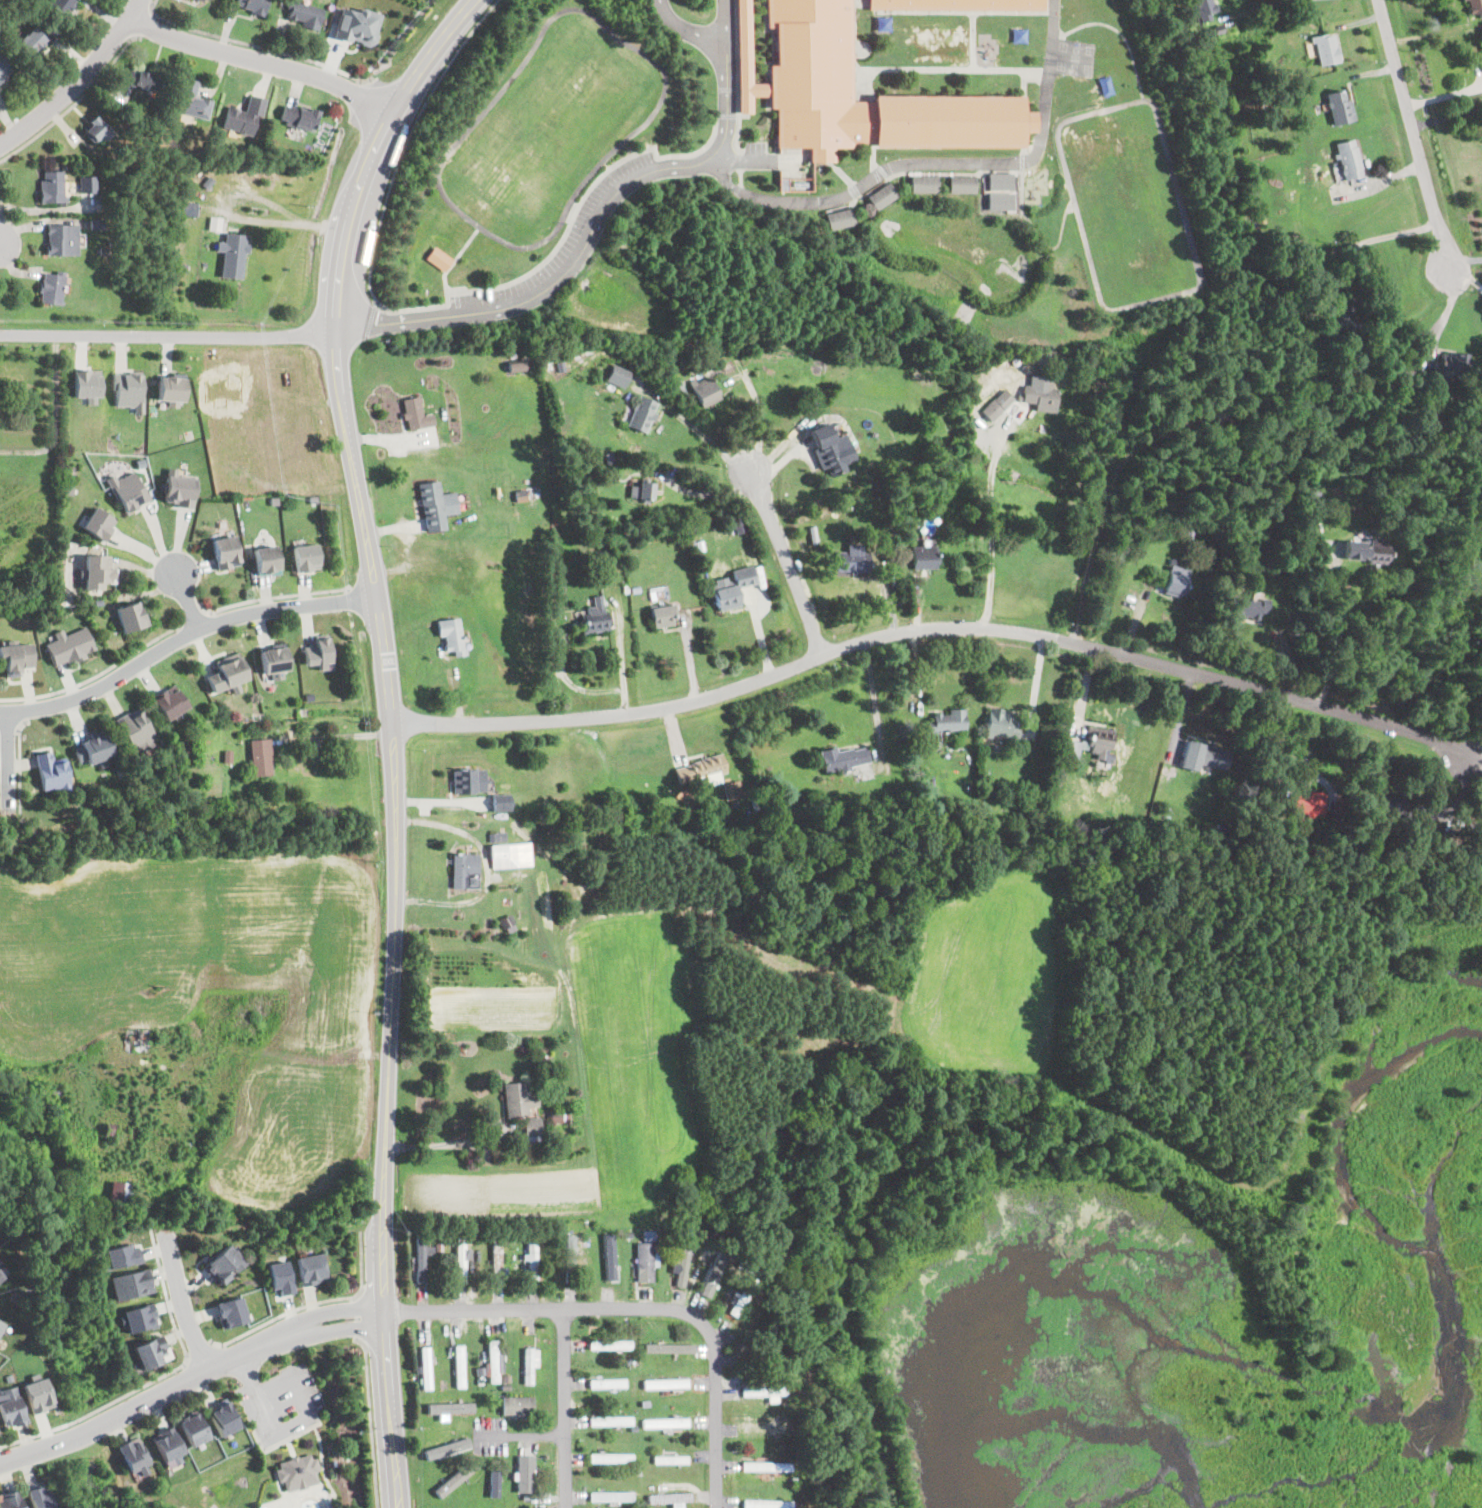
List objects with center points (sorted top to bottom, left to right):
building: (200, 0)
building: (205, 0)
building: (1464, 0)
building: (958, 5)
building: (62, 6)
building: (254, 6)
building: (1475, 7)
road: (1258, 8)
building: (1203, 10)
building: (305, 14)
road: (145, 23)
building: (882, 24)
building: (358, 28)
building: (1216, 29)
building: (1177, 32)
building: (1019, 35)
building: (34, 40)
road: (709, 40)
road: (258, 47)
building: (1481, 48)
building: (1326, 50)
road: (265, 61)
building: (747, 61)
building: (4, 69)
building: (810, 75)
building: (143, 80)
road: (80, 82)
building: (1105, 85)
road: (1444, 96)
building: (192, 101)
road: (76, 104)
building: (1340, 108)
building: (245, 116)
building: (300, 118)
road: (1446, 118)
track: (550, 128)
building: (97, 131)
road: (1413, 135)
road: (408, 140)
building: (1349, 160)
road: (938, 163)
building: (998, 181)
building: (208, 182)
building: (781, 184)
building: (88, 185)
building: (923, 185)
building: (962, 185)
building: (52, 188)
building: (881, 197)
building: (998, 201)
building: (187, 208)
road: (6, 210)
building: (838, 219)
building: (215, 223)
building: (99, 224)
road: (563, 234)
road: (1381, 237)
building: (62, 241)
road: (585, 244)
building: (104, 250)
road: (0, 253)
building: (234, 255)
road: (455, 258)
building: (439, 259)
road: (1463, 260)
building: (184, 268)
road: (1465, 278)
building: (52, 288)
road: (1441, 317)
road: (369, 320)
building: (1346, 321)
road: (167, 335)
building: (516, 366)
building: (525, 366)
building: (561, 366)
building: (1453, 367)
building: (1032, 370)
building: (1088, 370)
building: (618, 382)
building: (89, 384)
building: (172, 388)
building: (679, 389)
building: (704, 389)
building: (131, 390)
building: (1041, 396)
building: (998, 404)
building: (412, 413)
building: (641, 413)
building: (1219, 417)
road: (760, 421)
road: (700, 432)
building: (832, 451)
building: (608, 458)
building: (179, 489)
building: (126, 491)
building: (1316, 492)
building: (642, 493)
road: (709, 494)
building: (901, 494)
building: (521, 496)
building: (430, 498)
building: (841, 506)
building: (94, 522)
road: (991, 523)
building: (1191, 535)
building: (700, 547)
building: (1378, 551)
building: (226, 552)
road: (369, 554)
building: (302, 557)
building: (924, 558)
building: (617, 559)
building: (268, 560)
building: (853, 561)
road: (786, 562)
building: (605, 564)
building: (98, 568)
building: (1175, 584)
building: (733, 590)
building: (636, 591)
road: (273, 598)
building: (654, 598)
road: (189, 601)
building: (100, 602)
building: (1245, 608)
road: (194, 615)
building: (131, 616)
building: (663, 616)
building: (596, 618)
road: (930, 628)
building: (1296, 628)
road: (1332, 628)
building: (452, 636)
road: (183, 640)
building: (68, 645)
building: (315, 653)
road: (620, 654)
building: (16, 657)
building: (274, 658)
road: (99, 673)
building: (225, 673)
building: (167, 701)
road: (27, 709)
road: (877, 718)
building: (948, 722)
building: (1000, 724)
building: (136, 730)
road: (335, 736)
building: (933, 740)
building: (1100, 741)
building: (94, 747)
building: (1071, 749)
building: (228, 756)
road: (1473, 756)
building: (261, 757)
building: (1214, 757)
road: (9, 758)
building: (844, 759)
road: (18, 765)
building: (700, 767)
building: (53, 772)
building: (468, 782)
building: (730, 794)
building: (1278, 802)
building: (502, 803)
building: (242, 805)
building: (953, 805)
building: (1308, 806)
building: (1393, 808)
building: (894, 812)
building: (1026, 818)
building: (1220, 828)
building: (1058, 830)
building: (497, 838)
building: (511, 856)
building: (466, 872)
building: (507, 924)
building: (798, 939)
building: (139, 1041)
building: (516, 1099)
building: (560, 1117)
building: (533, 1127)
road: (448, 1144)
building: (120, 1193)
building: (628, 1234)
building: (649, 1235)
building: (620, 1238)
building: (541, 1240)
building: (581, 1241)
building: (742, 1253)
building: (121, 1256)
building: (610, 1256)
building: (421, 1258)
building: (532, 1259)
building: (571, 1259)
building: (686, 1260)
building: (460, 1261)
building: (497, 1263)
building: (645, 1263)
building: (223, 1264)
building: (748, 1266)
building: (311, 1269)
building: (1, 1276)
building: (279, 1276)
building: (712, 1276)
building: (131, 1284)
building: (742, 1297)
road: (181, 1300)
road: (312, 1304)
road: (639, 1307)
building: (229, 1312)
road: (363, 1317)
building: (137, 1318)
building: (1, 1325)
road: (385, 1327)
building: (609, 1345)
building: (668, 1348)
road: (200, 1351)
building: (151, 1352)
building: (635, 1360)
building: (494, 1362)
building: (426, 1364)
building: (529, 1365)
building: (459, 1366)
road: (245, 1367)
building: (481, 1372)
road: (155, 1378)
road: (188, 1378)
building: (481, 1378)
building: (505, 1379)
building: (518, 1381)
building: (451, 1384)
building: (608, 1384)
building: (665, 1384)
building: (505, 1388)
building: (764, 1392)
building: (37, 1394)
parking lot: (282, 1403)
building: (645, 1403)
building: (518, 1406)
building: (11, 1407)
building: (450, 1407)
road: (563, 1407)
building: (223, 1417)
road: (372, 1420)
building: (612, 1420)
building: (776, 1420)
building: (666, 1424)
road: (292, 1427)
building: (192, 1428)
building: (763, 1429)
building: (791, 1434)
road: (522, 1436)
road: (283, 1441)
building: (167, 1444)
building: (447, 1448)
building: (133, 1455)
building: (611, 1458)
building: (670, 1460)
building: (454, 1465)
road: (323, 1467)
building: (765, 1467)
building: (638, 1471)
building: (298, 1472)
building: (530, 1479)
building: (452, 1480)
building: (493, 1482)
building: (652, 1488)
building: (39, 1497)
building: (611, 1497)
building: (669, 1498)
building: (11, 1500)
building: (771, 1504)

